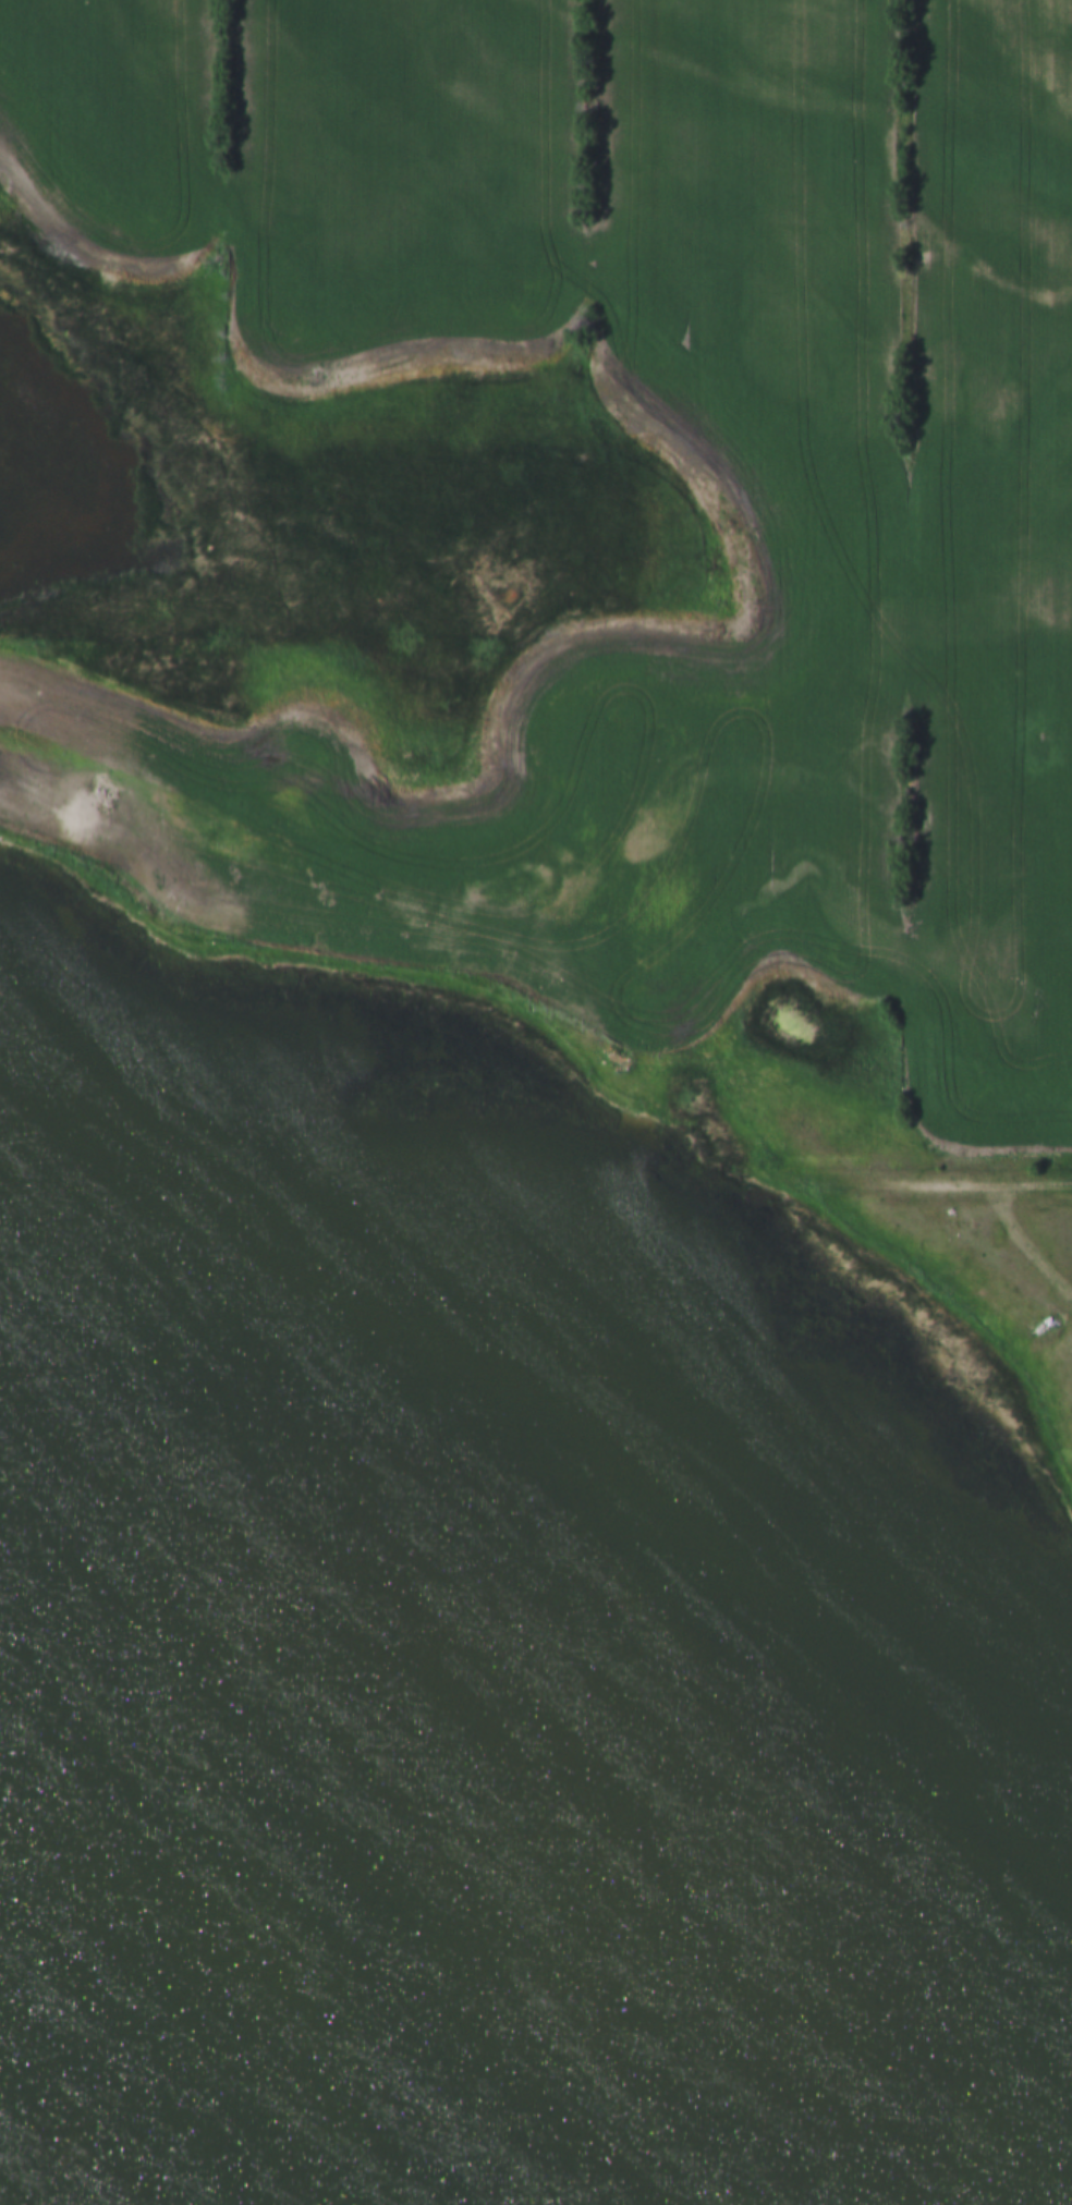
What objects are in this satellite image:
road: (989, 1182)
road: (1038, 1242)

